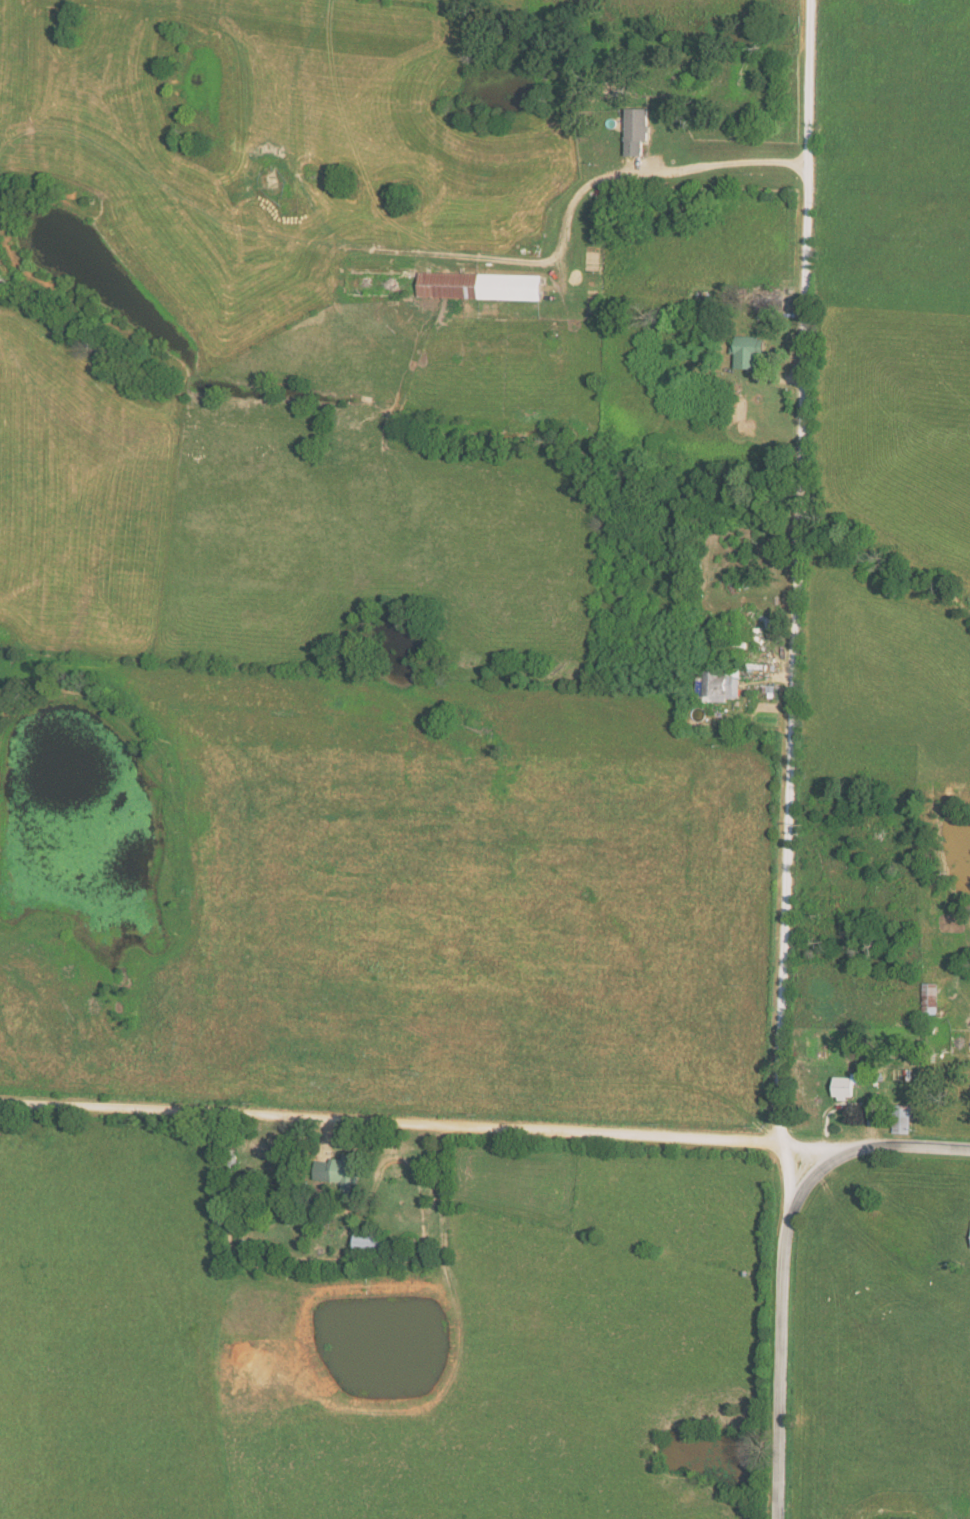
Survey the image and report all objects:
building: (639, 130)
road: (586, 171)
building: (483, 285)
building: (750, 352)
road: (795, 601)
building: (721, 680)
building: (934, 997)
building: (850, 1085)
building: (906, 1118)
road: (429, 1119)
road: (874, 1147)
building: (343, 1171)
road: (443, 1190)
building: (371, 1241)
road: (782, 1358)

